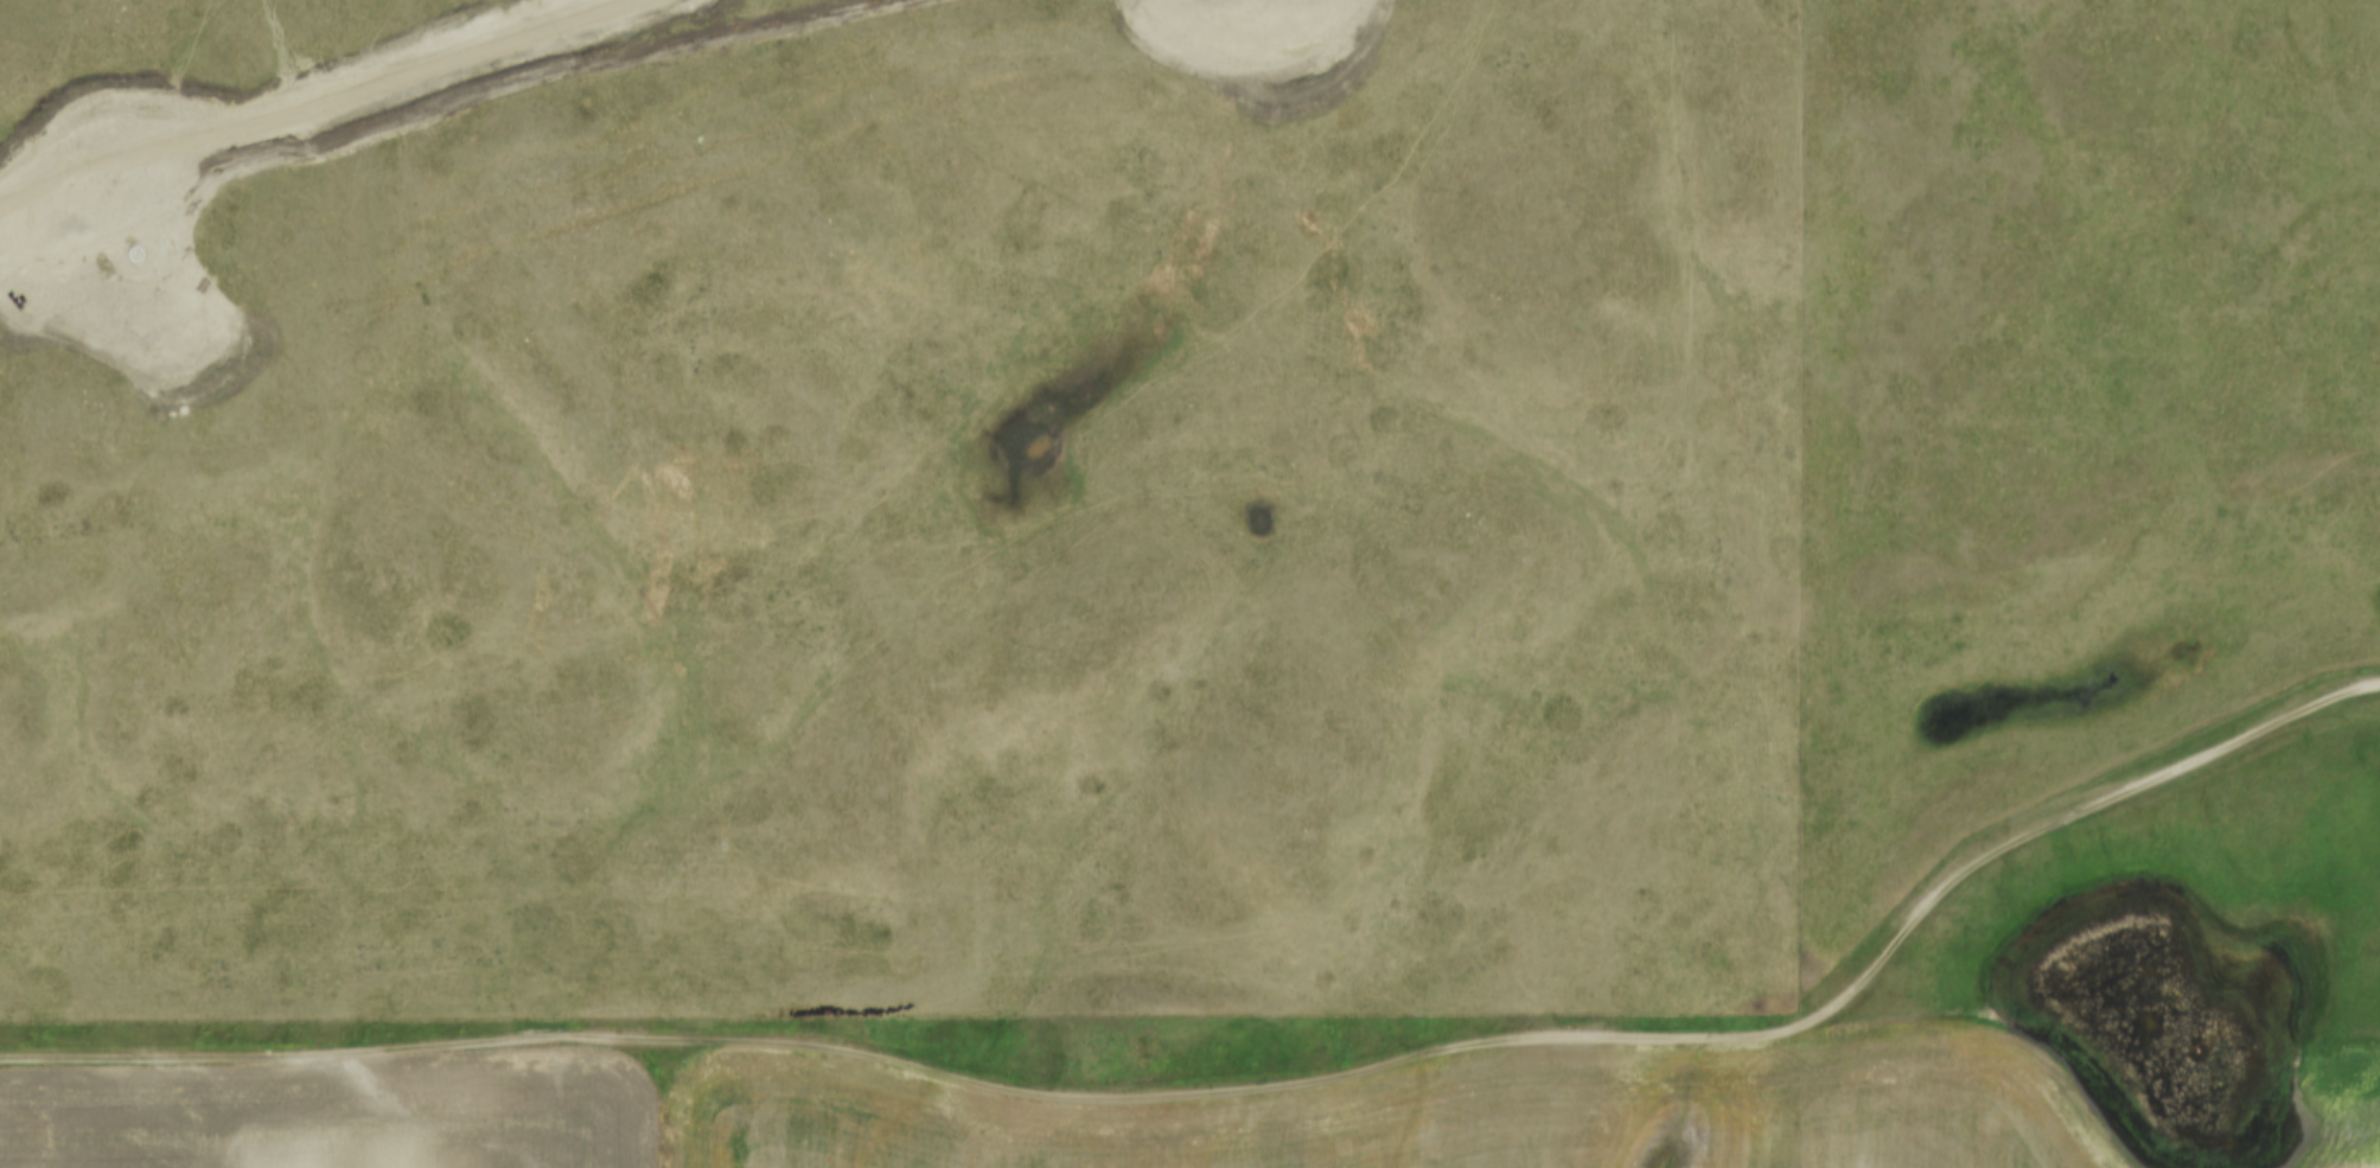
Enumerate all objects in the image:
wind turbine: (139, 249)
road: (1244, 1097)

